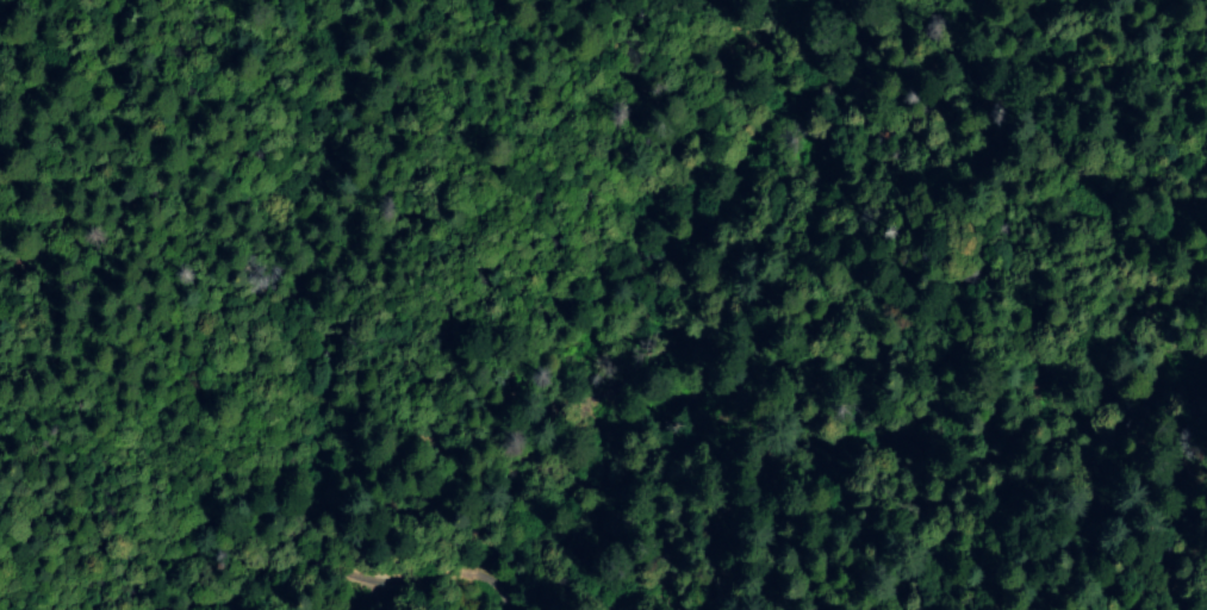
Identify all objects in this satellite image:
road: (316, 584)
road: (477, 605)

